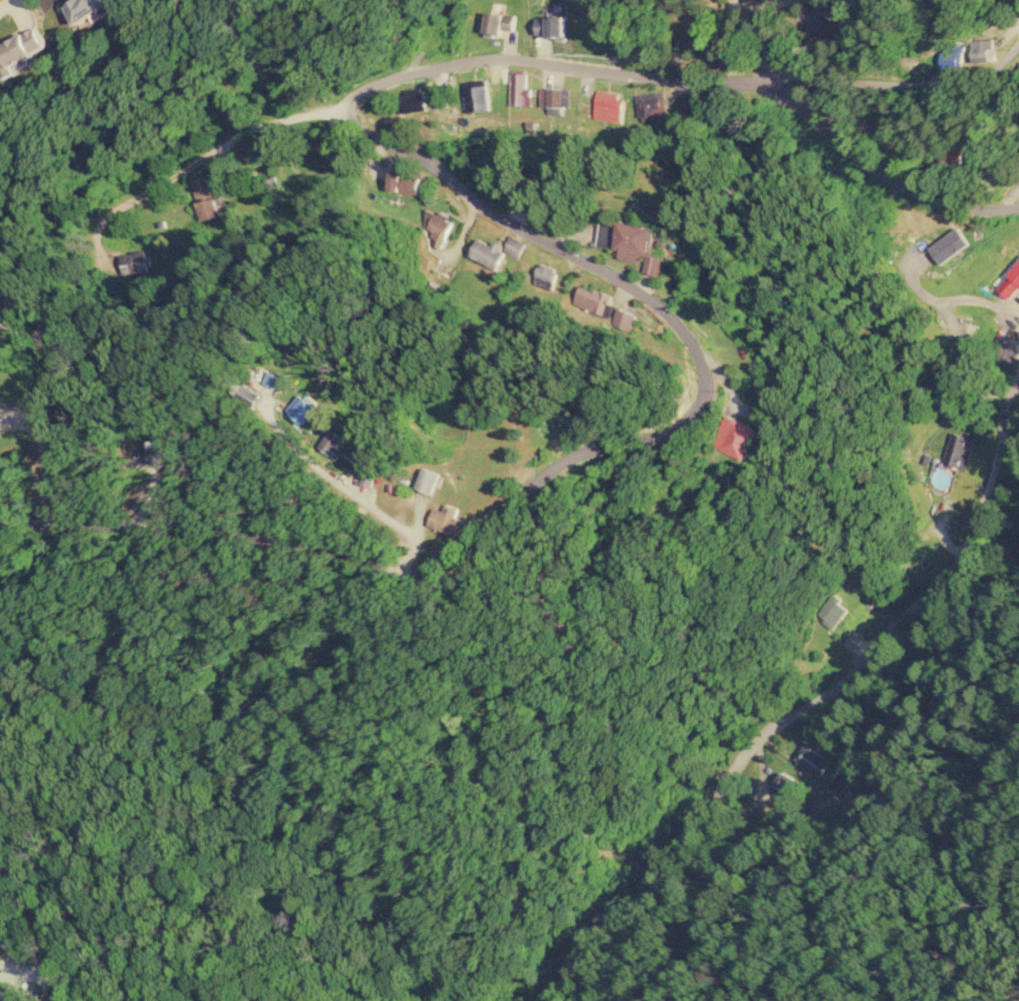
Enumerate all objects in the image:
building: (752, 0)
road: (5, 2)
building: (87, 8)
building: (20, 51)
building: (519, 88)
building: (551, 96)
building: (650, 105)
building: (636, 245)
building: (486, 253)
road: (564, 254)
building: (133, 262)
building: (544, 275)
building: (1010, 283)
building: (601, 305)
building: (302, 411)
building: (733, 436)
building: (330, 443)
building: (157, 450)
building: (963, 451)
road: (356, 461)
building: (446, 519)
road: (996, 525)
road: (822, 676)
building: (811, 760)
building: (840, 784)
building: (784, 788)
road: (228, 800)
building: (4, 997)

